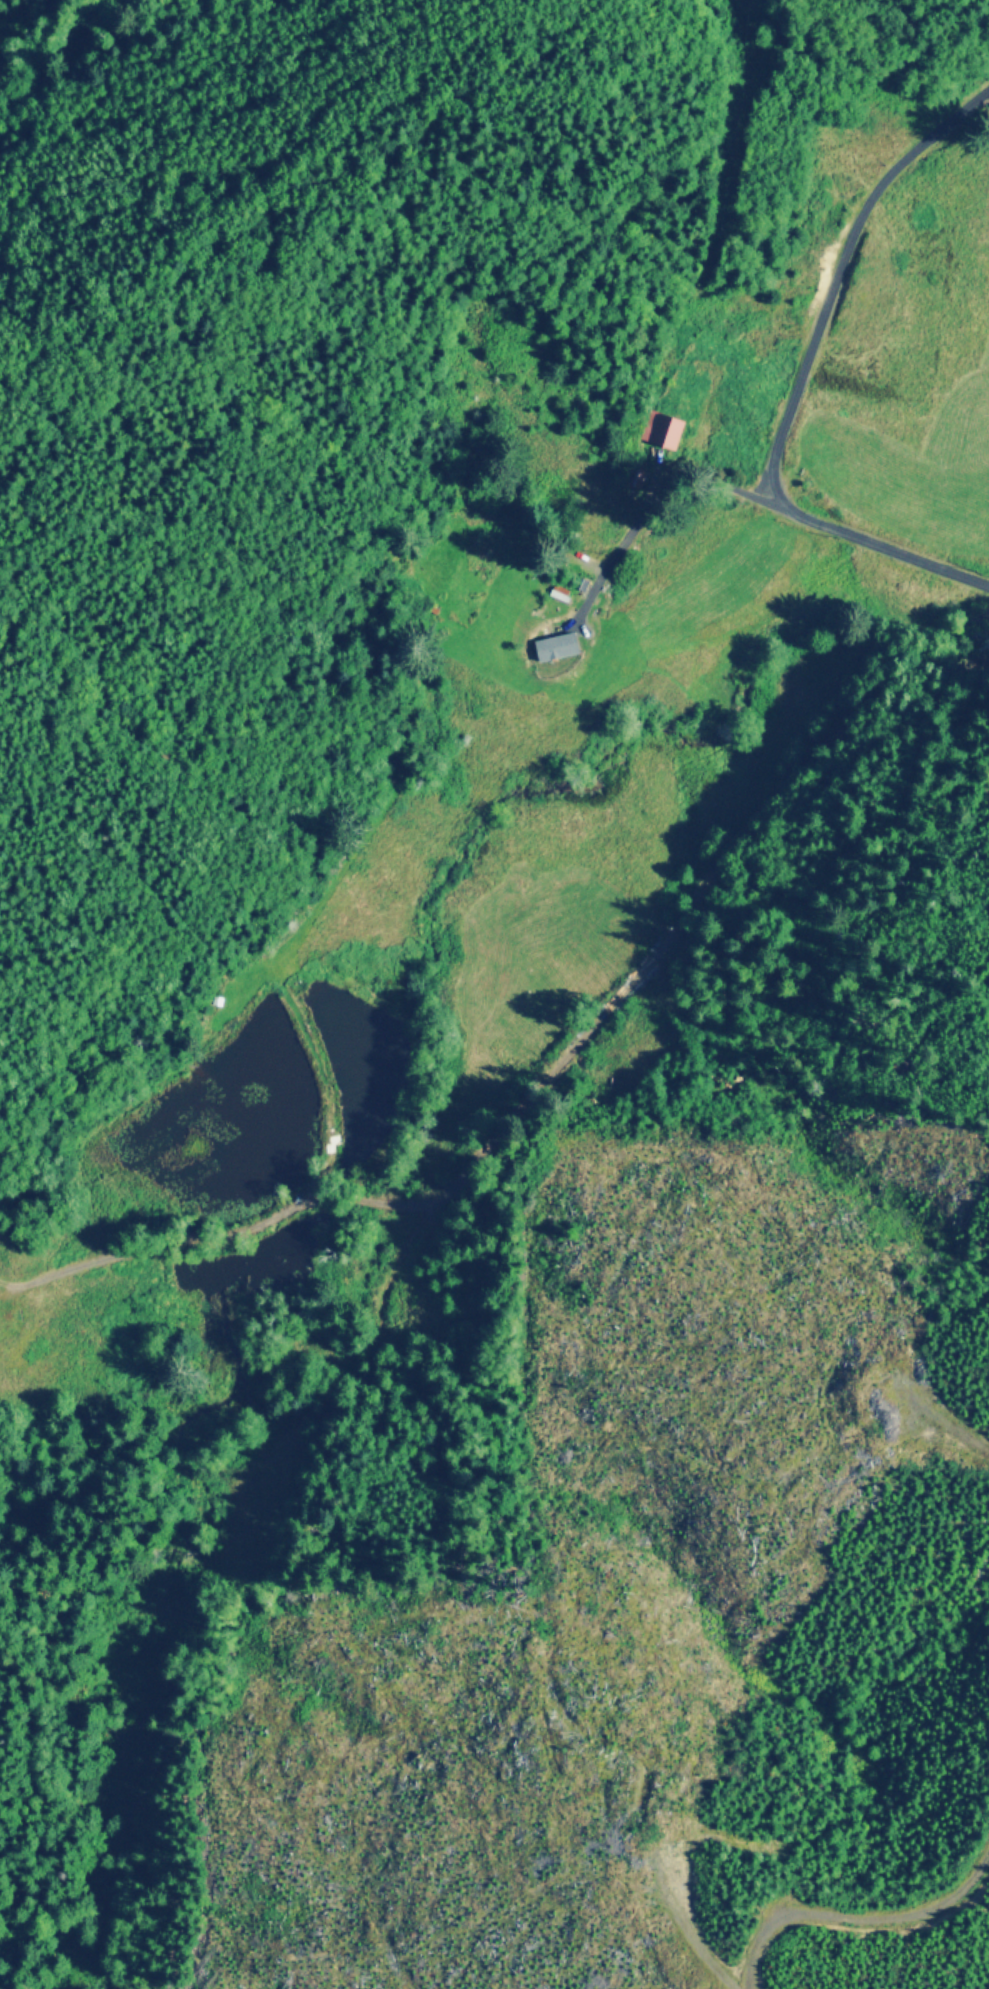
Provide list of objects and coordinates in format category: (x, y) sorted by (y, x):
road: (800, 379)
building: (668, 433)
road: (716, 475)
road: (643, 519)
building: (489, 550)
building: (560, 642)
road: (854, 1898)

